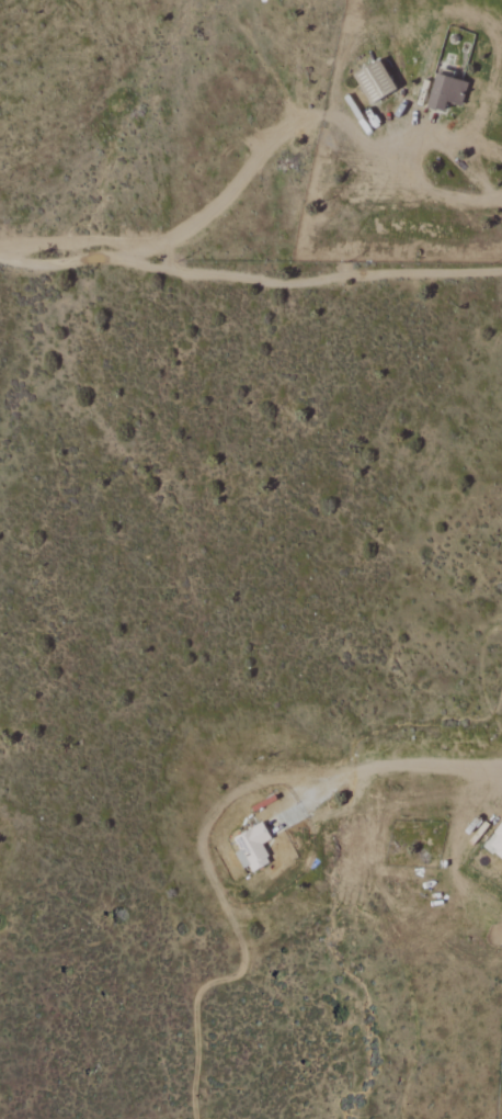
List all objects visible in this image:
building: (373, 82)
building: (445, 92)
road: (400, 145)
road: (253, 159)
road: (500, 191)
road: (250, 279)
road: (387, 764)
building: (495, 844)
building: (251, 848)

